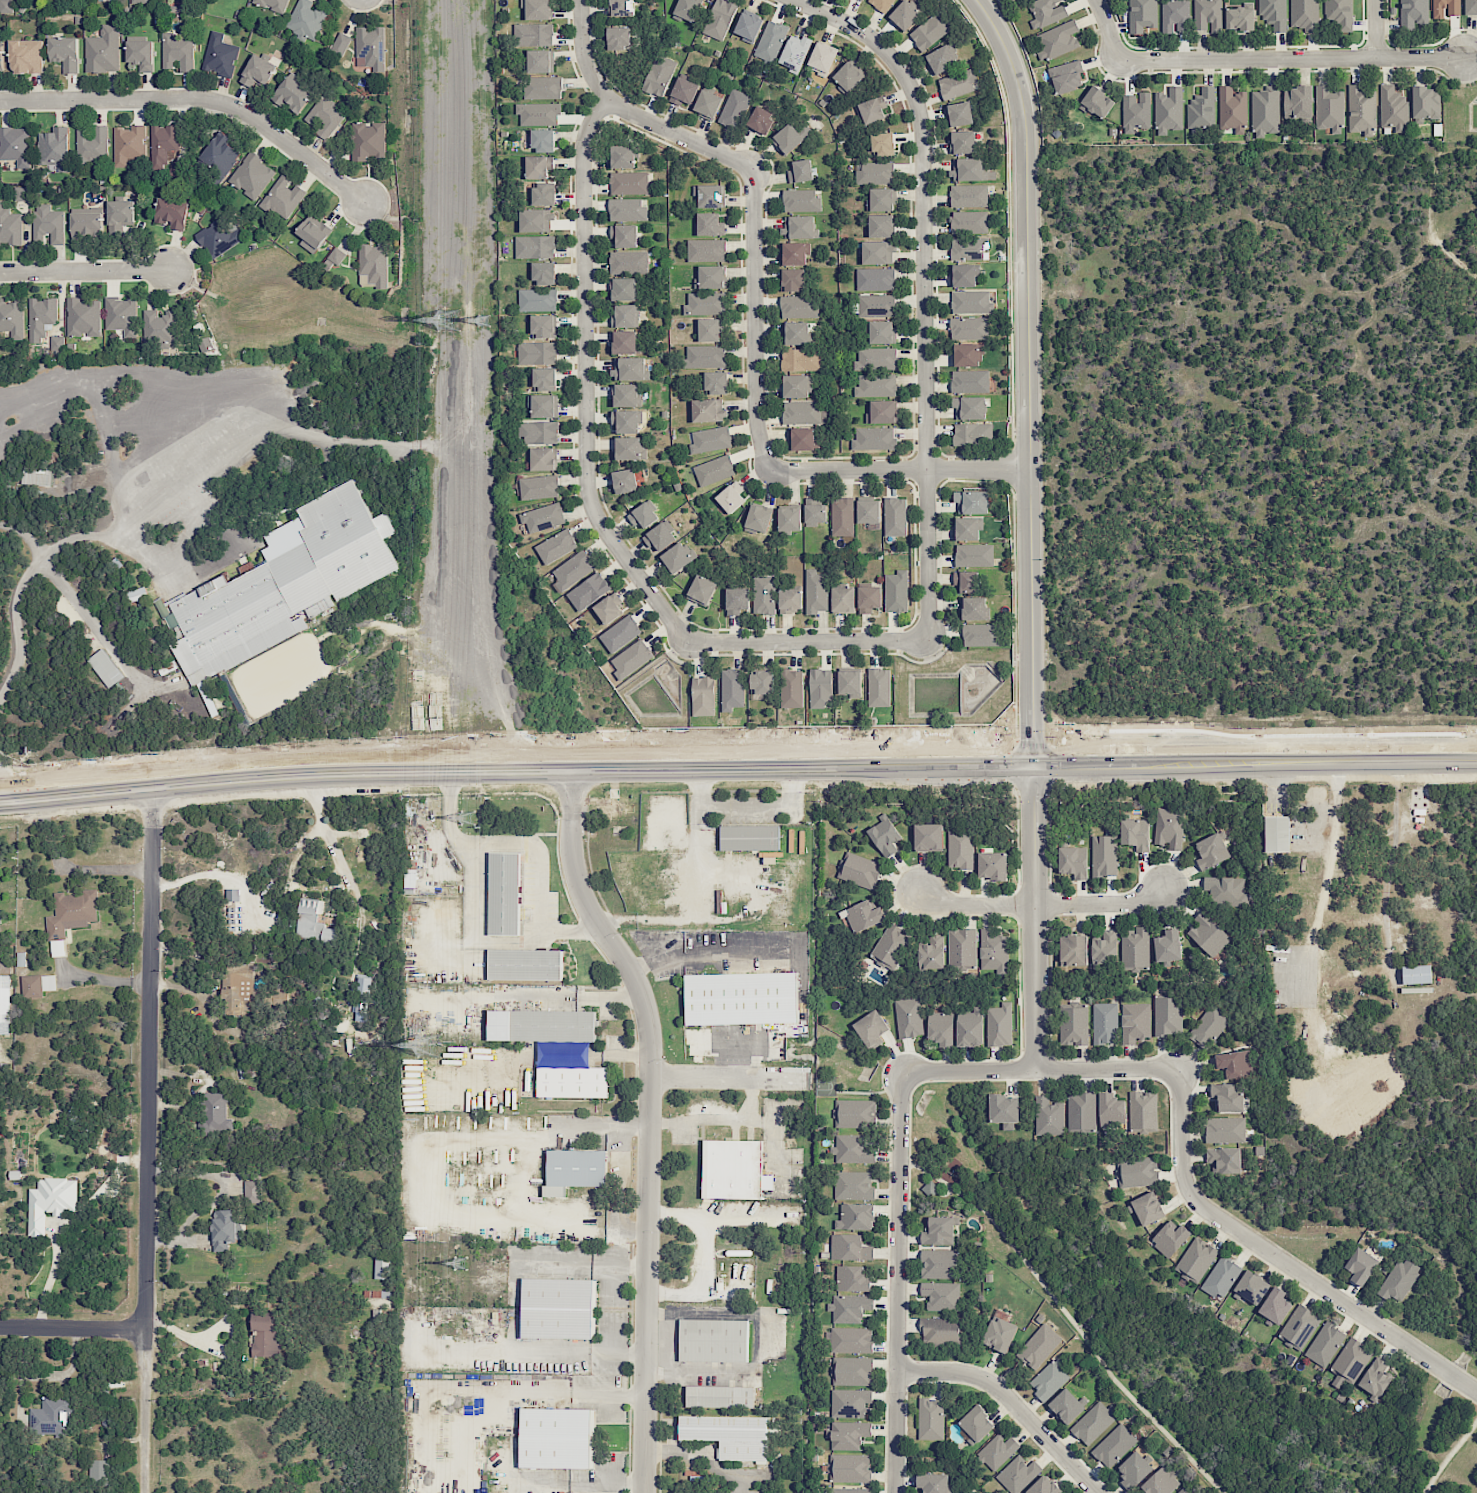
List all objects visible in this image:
building: (861, 0)
building: (139, 1)
building: (272, 4)
building: (881, 4)
building: (6, 6)
building: (1470, 6)
building: (622, 8)
building: (1445, 8)
building: (537, 9)
building: (688, 9)
building: (1047, 12)
building: (1274, 13)
building: (1339, 13)
building: (1412, 13)
building: (1304, 14)
building: (905, 15)
building: (1142, 15)
building: (1175, 15)
building: (1208, 15)
building: (307, 19)
building: (719, 19)
building: (1239, 19)
building: (748, 27)
road: (1109, 29)
road: (1376, 29)
building: (930, 31)
building: (533, 34)
building: (619, 38)
building: (1059, 40)
building: (770, 41)
building: (340, 44)
building: (370, 48)
building: (103, 50)
building: (177, 51)
building: (65, 52)
building: (794, 52)
building: (141, 54)
building: (1, 55)
building: (220, 55)
building: (26, 56)
building: (822, 58)
road: (1291, 58)
building: (942, 59)
building: (540, 61)
building: (258, 72)
building: (659, 75)
building: (848, 77)
building: (1067, 77)
building: (957, 83)
building: (542, 88)
building: (683, 91)
building: (292, 95)
road: (197, 99)
building: (1097, 102)
building: (1298, 102)
building: (1426, 103)
building: (707, 104)
building: (733, 108)
building: (1202, 108)
building: (1393, 108)
building: (1232, 109)
building: (1329, 109)
building: (872, 110)
building: (1168, 110)
building: (1362, 110)
building: (1136, 111)
building: (1265, 112)
building: (538, 113)
road: (630, 113)
building: (959, 114)
building: (325, 115)
building: (761, 120)
building: (787, 139)
building: (368, 140)
building: (542, 140)
building: (963, 142)
building: (883, 143)
building: (92, 144)
building: (163, 144)
building: (15, 145)
building: (128, 145)
building: (54, 150)
building: (221, 153)
building: (623, 156)
building: (539, 167)
building: (969, 169)
building: (800, 171)
building: (875, 173)
building: (252, 175)
building: (629, 183)
building: (543, 194)
building: (969, 195)
building: (709, 196)
building: (283, 197)
building: (881, 199)
building: (801, 200)
building: (626, 209)
building: (172, 212)
building: (119, 215)
building: (535, 220)
building: (969, 222)
building: (48, 223)
building: (85, 224)
building: (708, 224)
building: (9, 225)
building: (880, 225)
building: (799, 226)
building: (313, 233)
building: (624, 235)
building: (218, 238)
building: (534, 247)
building: (970, 248)
building: (706, 249)
building: (878, 252)
building: (794, 253)
building: (334, 259)
building: (628, 262)
building: (373, 265)
road: (1464, 267)
road: (84, 270)
building: (543, 272)
building: (964, 275)
building: (711, 277)
building: (875, 279)
building: (792, 280)
building: (624, 289)
road: (924, 289)
building: (537, 299)
building: (972, 302)
building: (704, 303)
building: (876, 305)
building: (798, 306)
building: (121, 315)
building: (625, 315)
building: (41, 317)
building: (83, 317)
building: (12, 318)
road: (753, 318)
power tower: (485, 319)
power tower: (449, 321)
building: (543, 326)
building: (159, 327)
building: (968, 328)
building: (708, 330)
building: (882, 332)
building: (796, 333)
building: (625, 342)
building: (57, 343)
building: (537, 353)
building: (705, 355)
building: (968, 355)
building: (876, 359)
building: (801, 360)
building: (629, 368)
building: (544, 379)
road: (1029, 380)
road: (584, 381)
building: (970, 381)
building: (716, 382)
building: (875, 385)
building: (797, 386)
building: (627, 395)
building: (543, 405)
building: (970, 407)
building: (708, 410)
building: (882, 411)
building: (802, 412)
building: (626, 421)
crop: (1264, 431)
building: (538, 432)
building: (973, 434)
building: (874, 438)
building: (710, 439)
building: (803, 439)
building: (629, 448)
building: (542, 459)
road: (900, 469)
building: (714, 470)
building: (36, 475)
building: (625, 480)
building: (539, 487)
building: (731, 497)
road: (154, 498)
building: (971, 502)
building: (868, 511)
building: (814, 512)
building: (644, 515)
building: (842, 516)
building: (895, 516)
building: (543, 517)
building: (758, 519)
building: (789, 519)
building: (967, 528)
building: (660, 536)
building: (556, 546)
building: (974, 555)
building: (678, 557)
building: (573, 570)
building: (966, 581)
building: (283, 587)
building: (701, 590)
building: (588, 591)
building: (816, 591)
building: (896, 591)
building: (137, 594)
building: (764, 594)
building: (869, 598)
building: (843, 599)
building: (737, 600)
building: (790, 600)
road: (76, 604)
building: (609, 608)
building: (975, 608)
building: (620, 633)
building: (981, 634)
road: (807, 640)
building: (631, 658)
building: (105, 668)
building: (761, 682)
building: (850, 683)
building: (879, 687)
building: (791, 688)
building: (820, 688)
building: (732, 689)
building: (703, 696)
traffic signals: (1032, 771)
road: (737, 774)
road: (8, 785)
power tower: (469, 817)
road: (322, 827)
building: (1169, 827)
building: (1135, 833)
building: (1276, 834)
building: (884, 835)
building: (928, 837)
building: (749, 838)
road: (1331, 839)
building: (960, 845)
building: (1211, 851)
road: (541, 853)
building: (1103, 855)
building: (1073, 861)
building: (992, 865)
road: (71, 866)
building: (859, 870)
building: (1227, 891)
building: (504, 894)
road: (1039, 900)
building: (71, 912)
building: (864, 916)
road: (1034, 919)
building: (313, 922)
road: (471, 923)
building: (1208, 934)
building: (890, 946)
building: (1168, 946)
building: (962, 949)
building: (1105, 949)
building: (1135, 949)
building: (1073, 950)
building: (993, 951)
building: (932, 953)
road: (704, 956)
building: (524, 964)
building: (1416, 974)
road: (102, 980)
building: (36, 987)
building: (237, 988)
building: (363, 994)
building: (741, 998)
building: (4, 1004)
building: (1168, 1016)
building: (908, 1017)
building: (1135, 1022)
building: (1105, 1023)
building: (1073, 1024)
building: (541, 1025)
building: (999, 1025)
building: (970, 1027)
building: (1207, 1027)
building: (941, 1028)
building: (871, 1029)
power tower: (429, 1051)
building: (1233, 1064)
road: (1037, 1068)
road: (725, 1080)
building: (571, 1082)
building: (1227, 1097)
building: (1004, 1110)
building: (1111, 1110)
building: (1081, 1111)
building: (1143, 1111)
building: (854, 1113)
building: (216, 1114)
building: (1048, 1116)
road: (648, 1125)
building: (1225, 1129)
road: (147, 1142)
building: (852, 1149)
building: (1224, 1159)
building: (576, 1167)
building: (733, 1169)
building: (1137, 1171)
building: (853, 1185)
building: (930, 1188)
building: (251, 1191)
building: (50, 1201)
building: (1148, 1208)
building: (856, 1216)
building: (225, 1228)
building: (938, 1231)
building: (1170, 1238)
building: (850, 1248)
road: (702, 1255)
road: (1279, 1258)
building: (1196, 1260)
road: (579, 1261)
power tower: (462, 1264)
building: (939, 1264)
building: (1360, 1265)
building: (382, 1267)
building: (1221, 1277)
building: (852, 1279)
building: (1399, 1280)
road: (896, 1281)
building: (1252, 1286)
building: (941, 1296)
building: (1275, 1305)
building: (556, 1308)
building: (849, 1308)
road: (73, 1326)
building: (1299, 1327)
building: (940, 1331)
building: (264, 1334)
building: (713, 1340)
building: (850, 1340)
building: (1325, 1344)
road: (531, 1346)
building: (1039, 1346)
road: (218, 1349)
building: (1350, 1360)
building: (851, 1371)
building: (1376, 1378)
building: (1049, 1379)
building: (720, 1397)
building: (849, 1402)
road: (1009, 1402)
building: (1066, 1406)
building: (51, 1416)
building: (930, 1419)
building: (1093, 1422)
building: (976, 1424)
building: (728, 1434)
building: (848, 1434)
building: (555, 1438)
building: (1114, 1445)
building: (997, 1451)
road: (705, 1458)
building: (849, 1468)
building: (1134, 1470)
building: (99, 1471)
building: (1018, 1474)
building: (1161, 1482)
building: (934, 1483)
building: (1044, 1486)
building: (850, 1490)
building: (1182, 1491)

